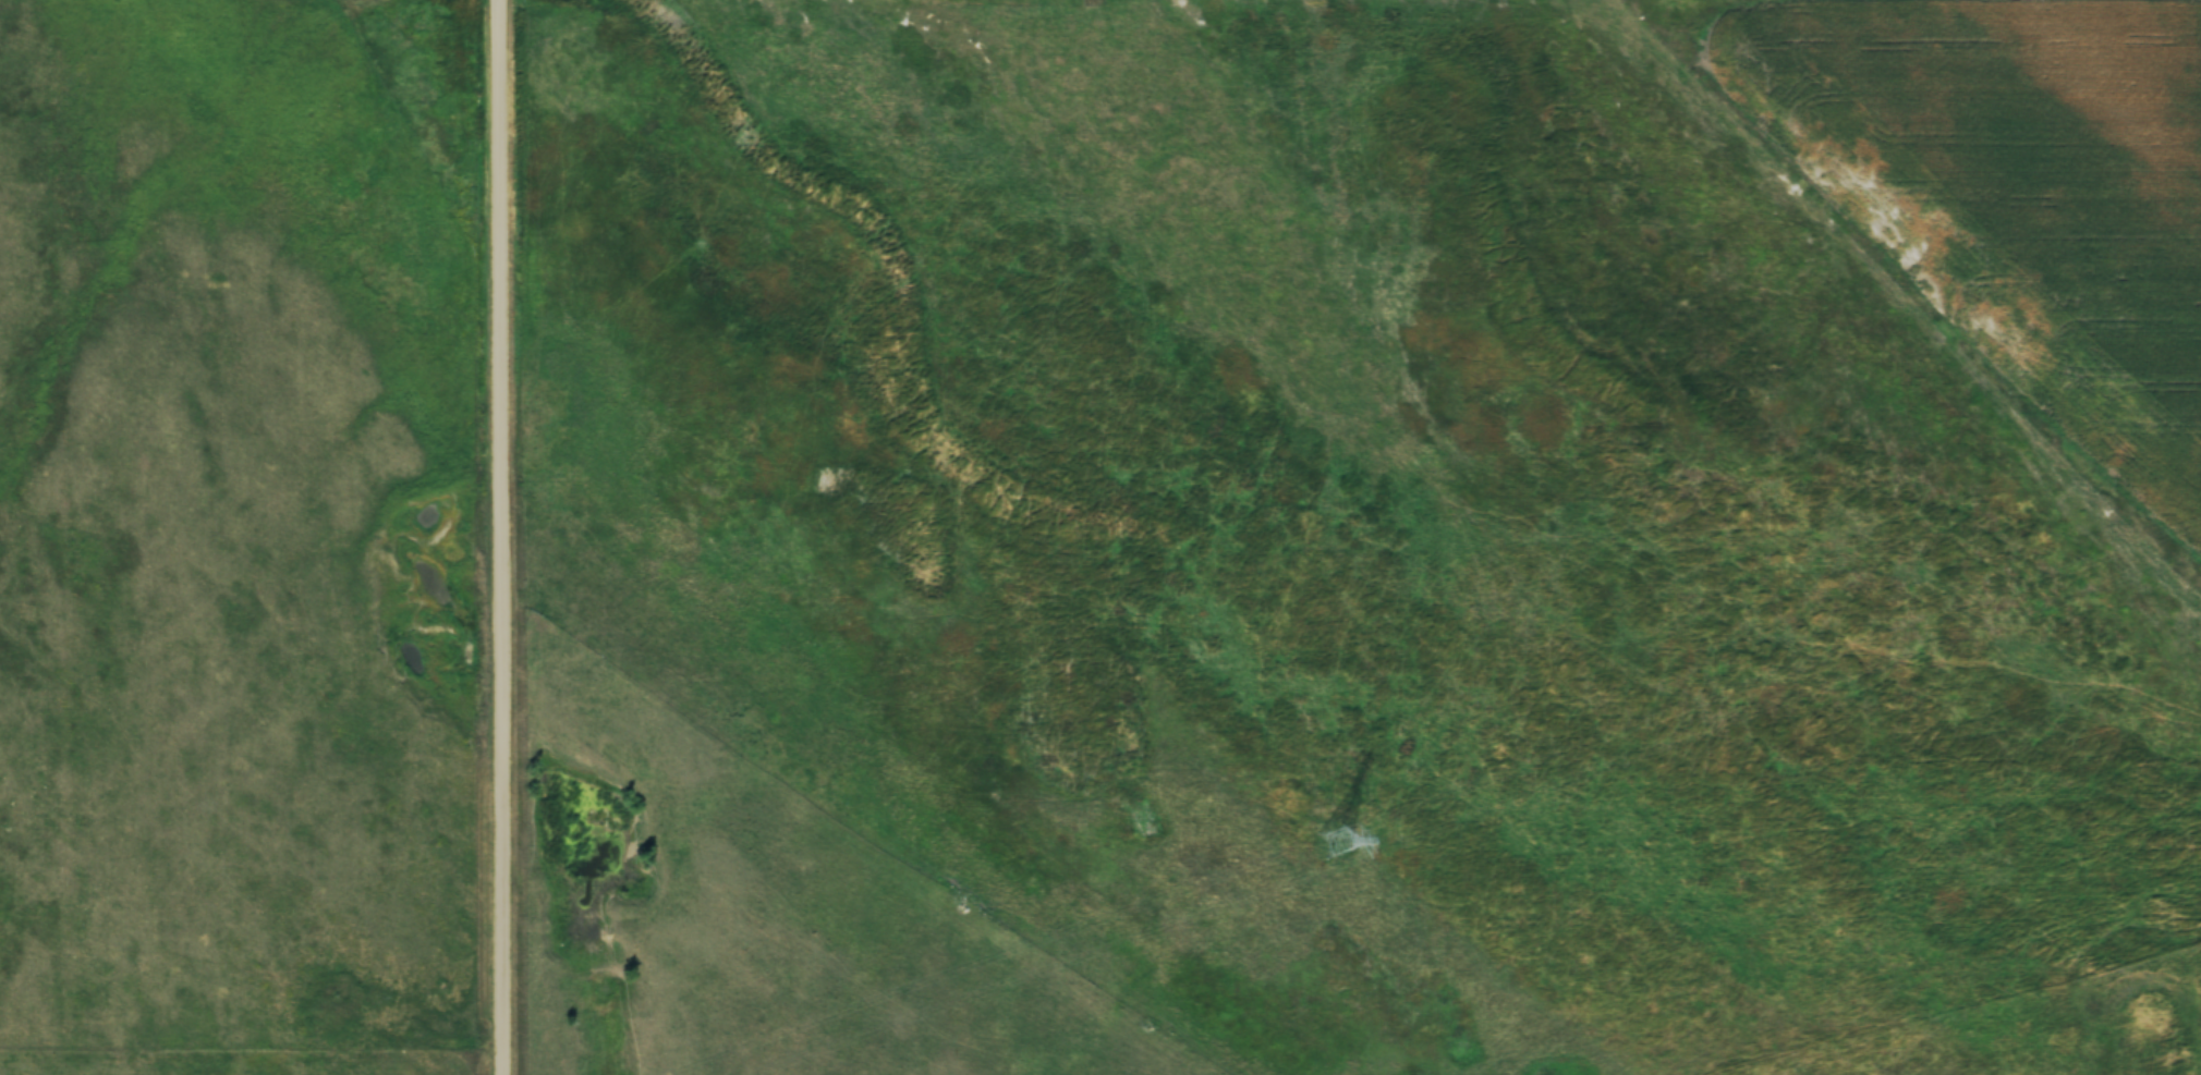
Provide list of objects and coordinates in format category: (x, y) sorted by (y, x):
road: (503, 537)
power tower: (1327, 842)

